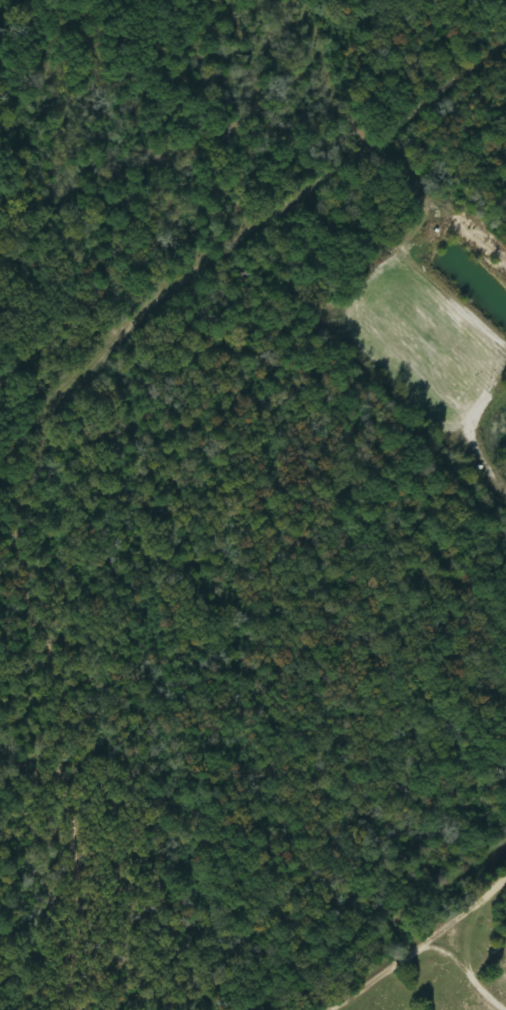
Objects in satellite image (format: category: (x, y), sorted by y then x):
road: (68, 440)
road: (503, 1000)

